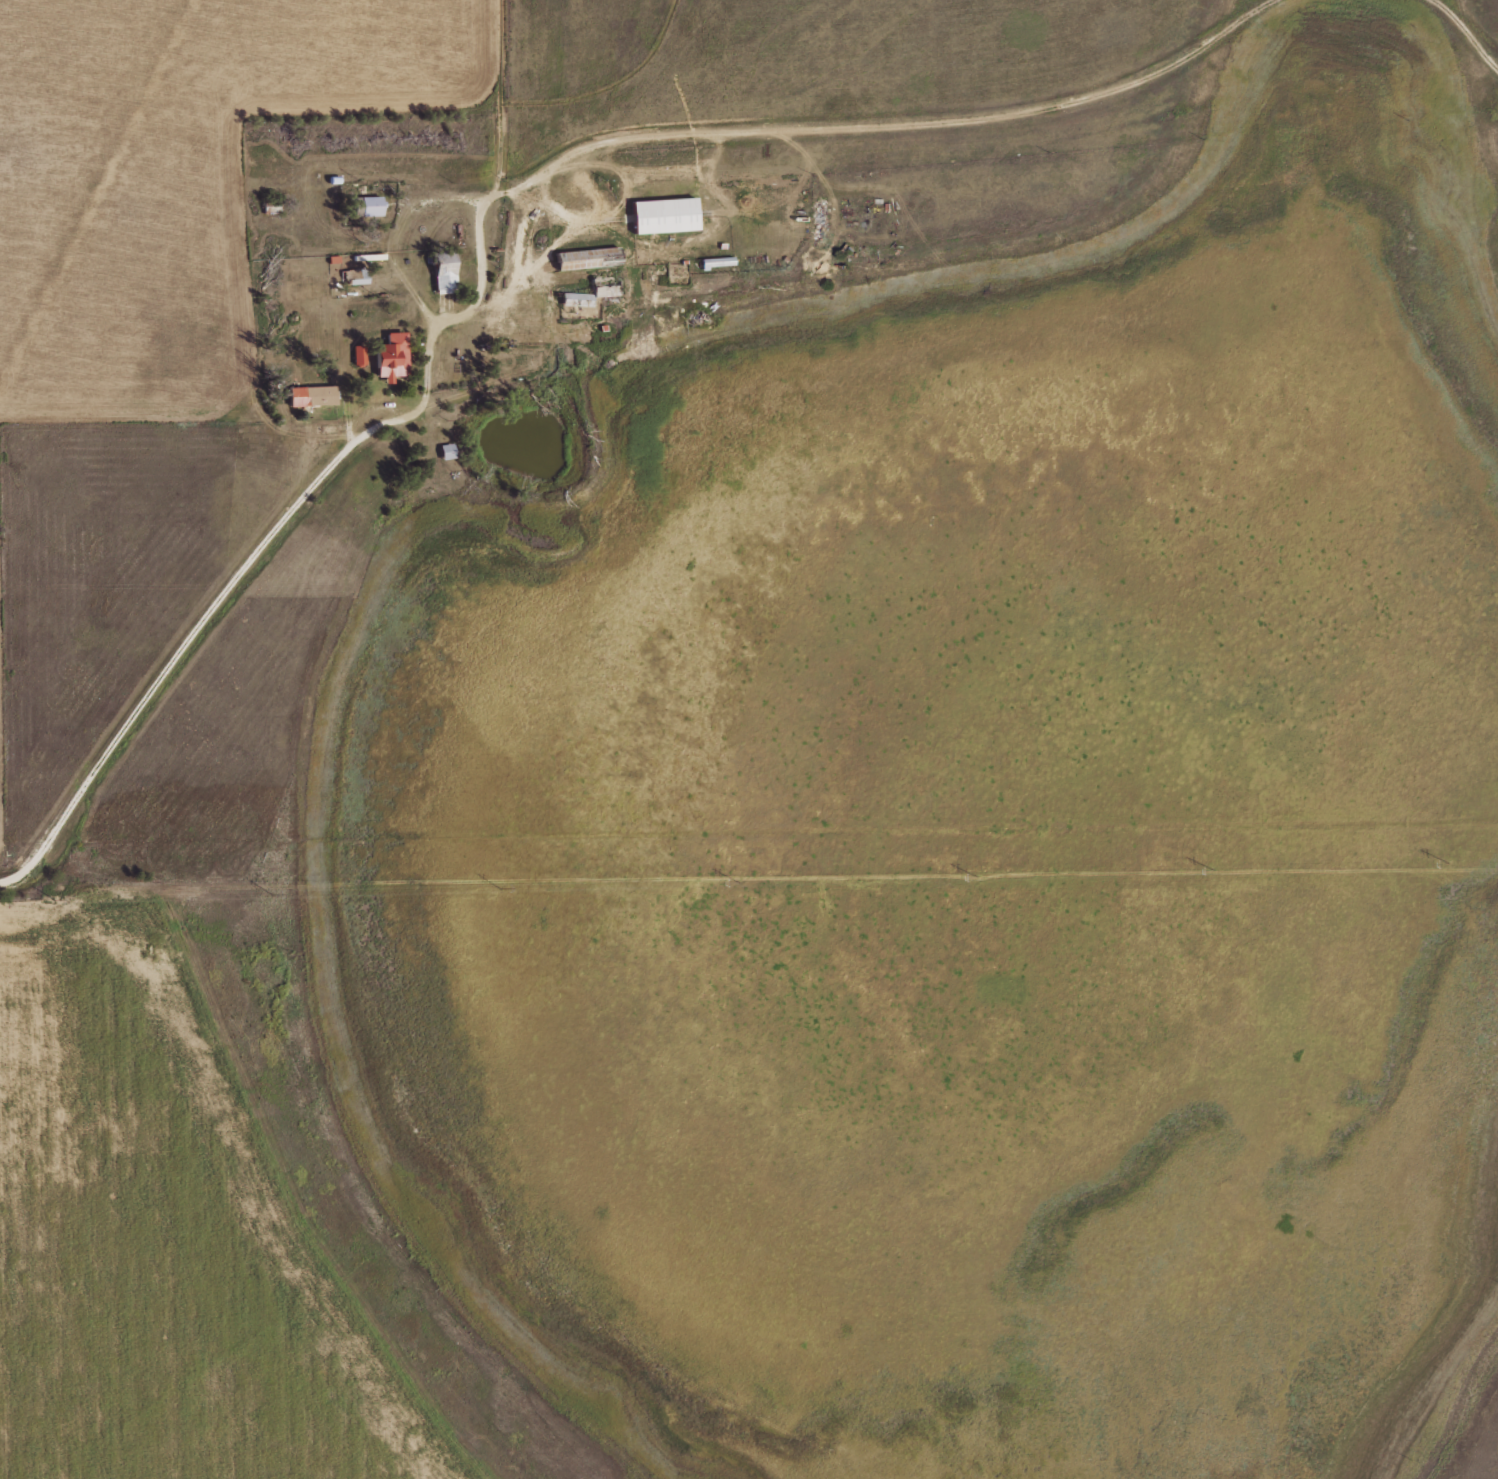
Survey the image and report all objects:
road: (1441, 16)
road: (848, 99)
building: (668, 213)
building: (447, 271)
building: (361, 353)
building: (395, 355)
building: (314, 395)
building: (449, 450)
road: (319, 451)
road: (14, 873)

